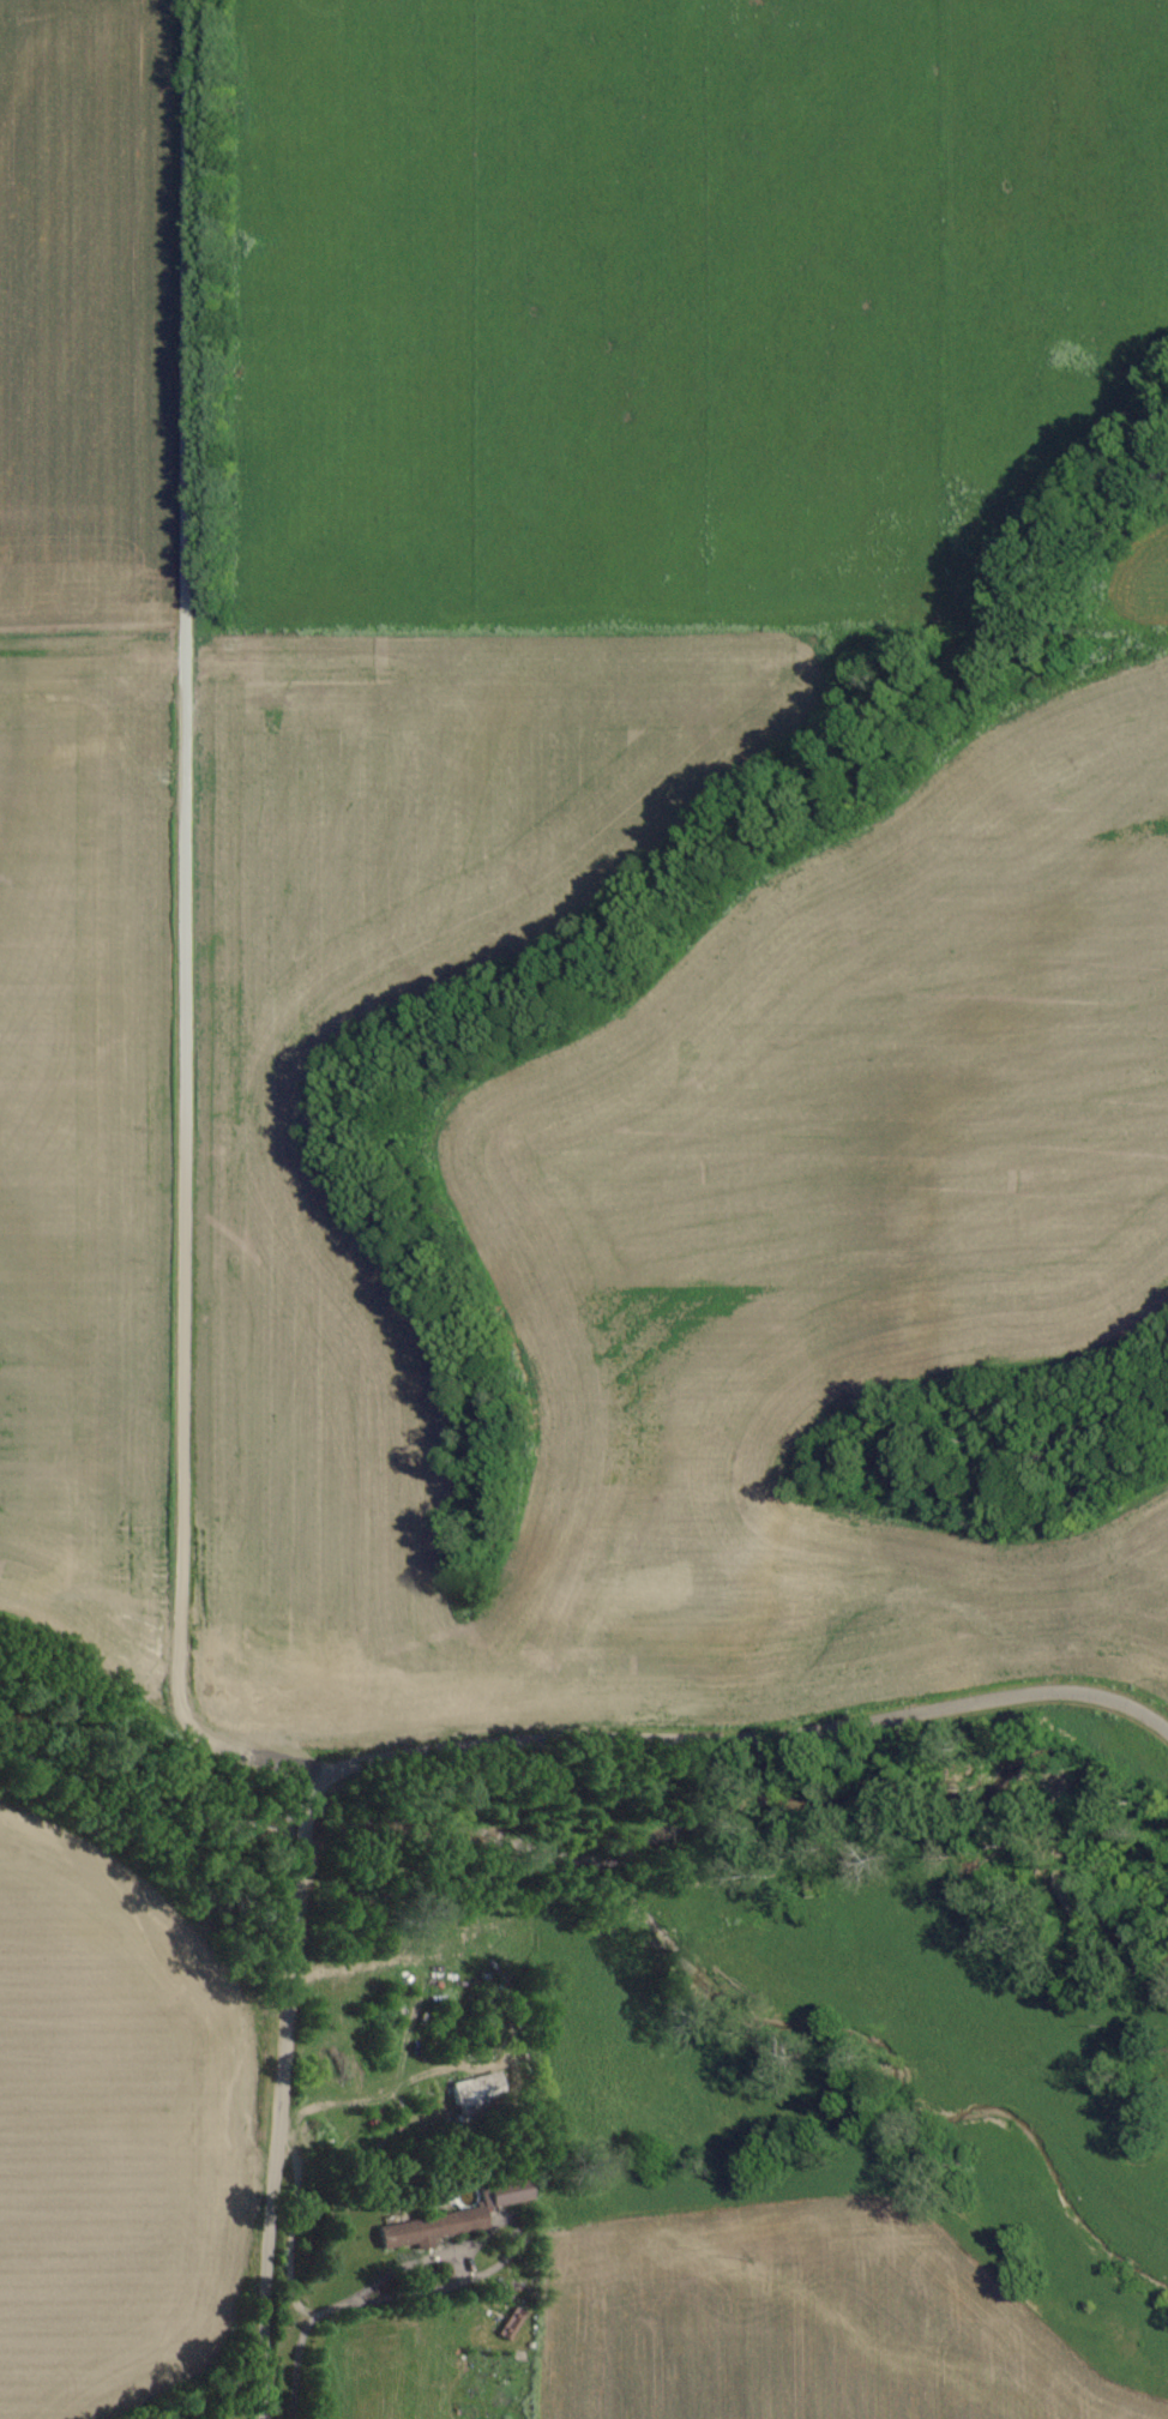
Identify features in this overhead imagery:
road: (177, 940)
road: (742, 1738)
building: (480, 2096)
road: (296, 2105)
building: (508, 2194)
building: (423, 2230)

